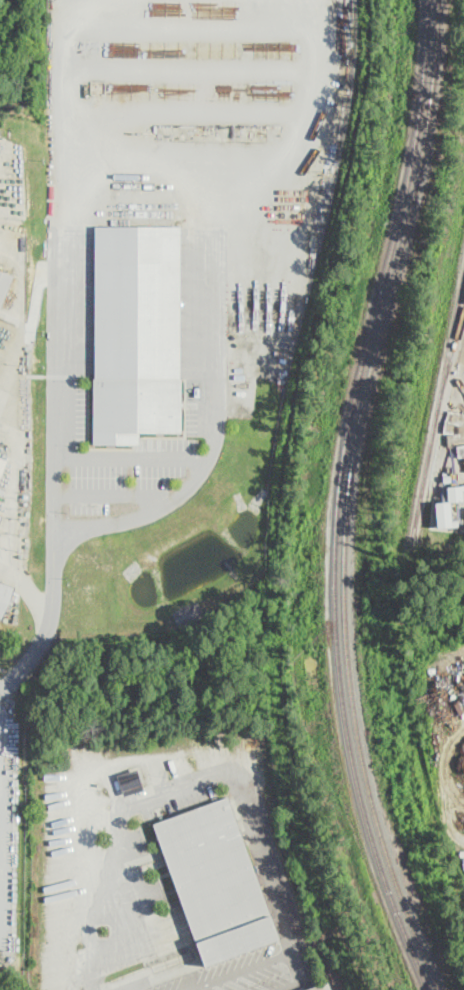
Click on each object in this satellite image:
road: (313, 113)
building: (5, 286)
road: (34, 314)
road: (216, 318)
building: (137, 331)
road: (57, 345)
railway: (452, 356)
railway: (438, 407)
building: (460, 449)
railway: (353, 451)
road: (132, 458)
building: (2, 465)
road: (15, 477)
building: (455, 492)
road: (114, 496)
railway: (339, 497)
building: (443, 513)
building: (5, 598)
building: (130, 781)
road: (180, 784)
building: (217, 879)
railway: (422, 947)
road: (261, 962)
railway: (329, 971)
building: (317, 987)
building: (334, 989)

